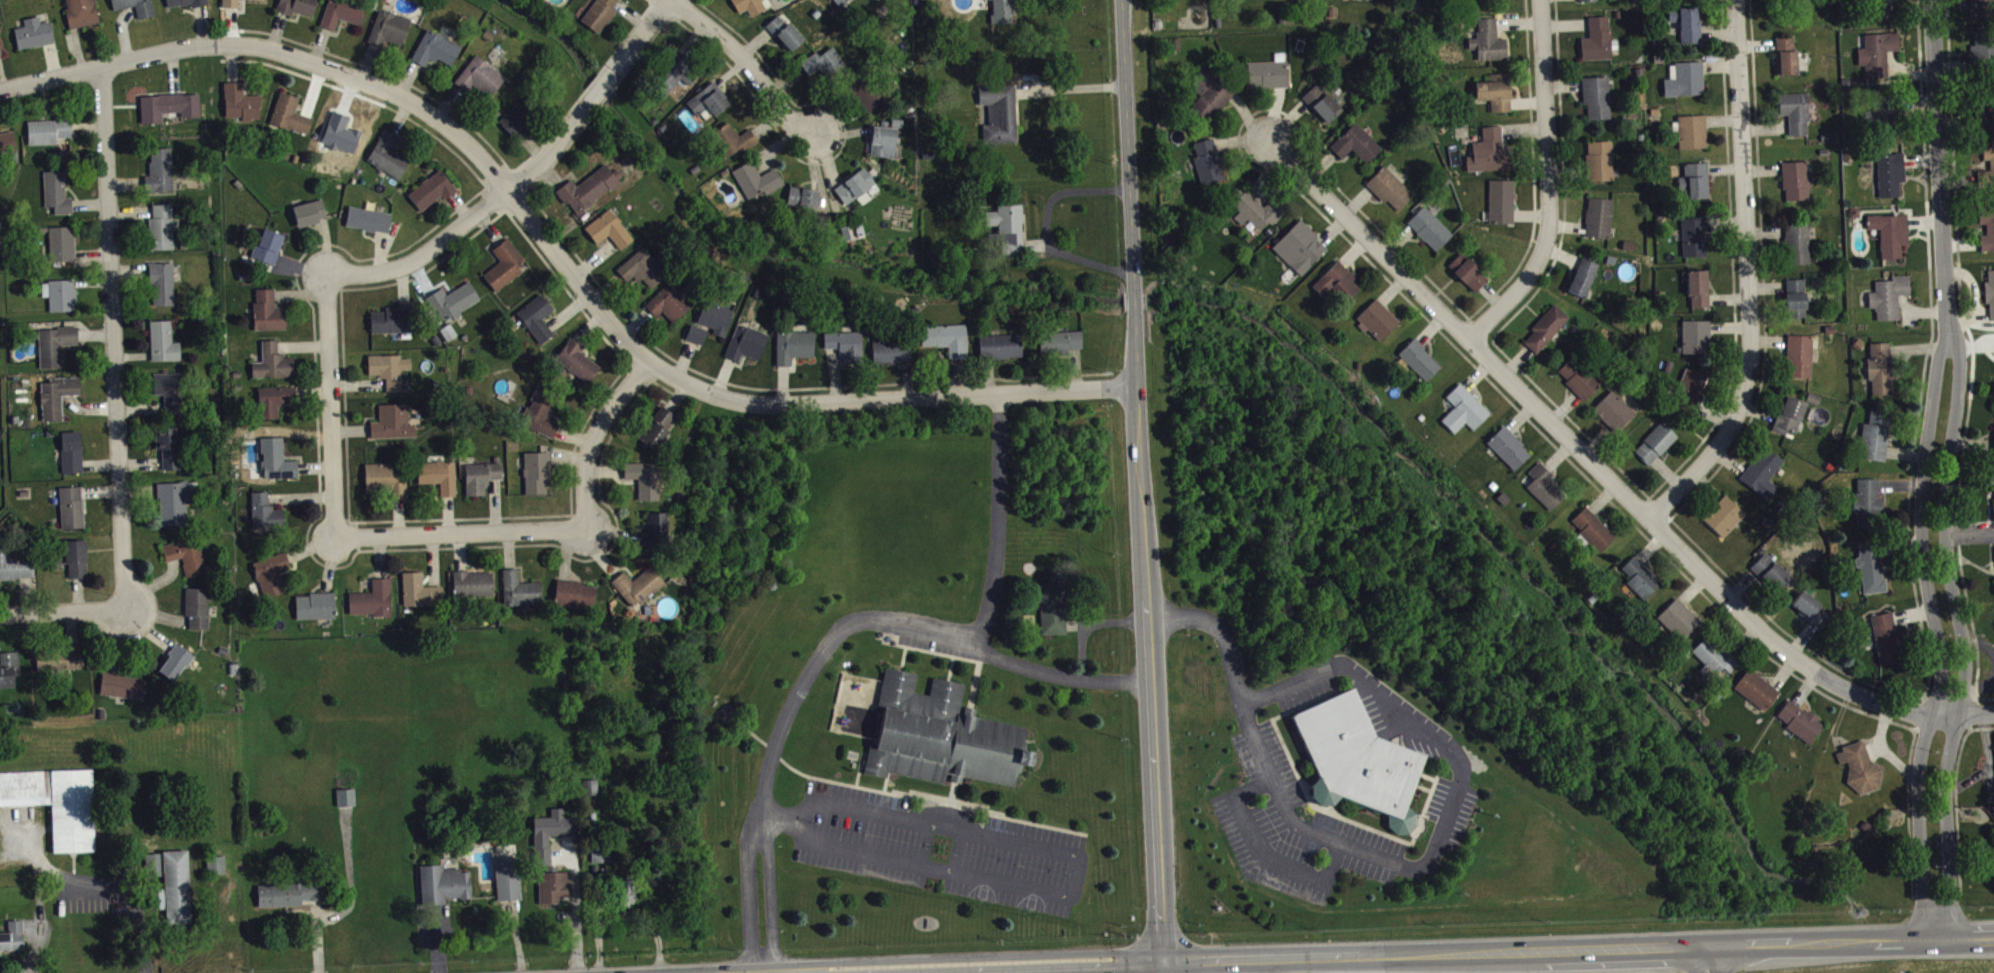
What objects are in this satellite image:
road: (651, 0)
building: (983, 0)
building: (1808, 0)
building: (1262, 1)
building: (1366, 1)
building: (184, 2)
building: (228, 2)
building: (839, 2)
building: (1589, 2)
building: (747, 5)
building: (134, 6)
building: (294, 6)
road: (679, 8)
building: (1982, 11)
building: (80, 12)
building: (339, 12)
building: (1000, 12)
building: (598, 13)
road: (642, 14)
building: (387, 27)
building: (1689, 28)
building: (32, 32)
building: (782, 32)
road: (638, 34)
building: (1599, 44)
road: (618, 46)
building: (1490, 46)
building: (433, 48)
building: (0, 51)
building: (1788, 60)
building: (1879, 60)
building: (1985, 60)
road: (751, 62)
building: (826, 64)
building: (671, 71)
building: (478, 76)
building: (1270, 77)
road: (591, 81)
building: (1687, 84)
road: (599, 85)
building: (873, 89)
road: (422, 91)
building: (1213, 96)
building: (1497, 97)
building: (239, 101)
building: (705, 101)
building: (1598, 102)
building: (166, 105)
building: (1324, 108)
building: (997, 112)
building: (288, 113)
building: (1987, 114)
building: (520, 117)
building: (1797, 117)
building: (1886, 126)
building: (47, 129)
building: (338, 132)
building: (1694, 136)
building: (731, 139)
building: (881, 140)
building: (6, 141)
road: (1127, 144)
building: (1358, 148)
building: (386, 155)
building: (1492, 156)
road: (828, 160)
building: (1602, 165)
building: (1210, 167)
building: (1993, 170)
building: (159, 171)
road: (493, 172)
building: (755, 179)
building: (1892, 179)
road: (1550, 182)
building: (853, 184)
building: (1697, 185)
building: (1797, 185)
building: (587, 186)
building: (431, 189)
building: (55, 191)
building: (1392, 193)
building: (802, 196)
road: (495, 197)
building: (1503, 206)
building: (308, 211)
building: (1259, 215)
road: (470, 216)
building: (367, 218)
building: (1601, 222)
building: (159, 226)
road: (1046, 226)
building: (1005, 227)
building: (607, 229)
building: (1432, 232)
building: (1991, 234)
building: (1892, 238)
building: (1696, 241)
building: (59, 242)
building: (266, 245)
building: (1799, 248)
building: (1302, 252)
road: (557, 253)
building: (503, 264)
building: (641, 267)
road: (556, 274)
road: (1753, 275)
building: (1470, 277)
building: (161, 282)
building: (1585, 282)
building: (1339, 286)
building: (58, 293)
building: (1700, 293)
building: (1991, 296)
road: (1133, 298)
building: (451, 299)
building: (1891, 301)
building: (667, 302)
building: (1798, 303)
building: (265, 311)
building: (535, 317)
building: (713, 317)
building: (396, 319)
building: (1380, 324)
building: (447, 331)
building: (695, 333)
building: (1548, 333)
road: (113, 337)
building: (945, 337)
building: (161, 340)
building: (745, 341)
building: (1059, 341)
building: (1698, 342)
building: (54, 343)
building: (844, 344)
building: (792, 345)
building: (999, 345)
building: (889, 350)
building: (576, 360)
building: (271, 361)
building: (1802, 361)
building: (1421, 365)
building: (388, 368)
road: (639, 370)
building: (1882, 373)
road: (652, 380)
building: (1580, 382)
road: (763, 388)
building: (168, 390)
road: (316, 390)
building: (1692, 390)
building: (55, 395)
building: (272, 399)
road: (329, 407)
building: (539, 414)
building: (1466, 414)
building: (1615, 416)
building: (391, 420)
building: (1791, 420)
building: (655, 427)
road: (594, 436)
building: (1878, 441)
building: (167, 446)
building: (1657, 448)
building: (70, 452)
building: (1511, 453)
building: (274, 458)
road: (1938, 468)
building: (535, 471)
road: (1611, 472)
building: (437, 475)
building: (479, 476)
building: (643, 477)
building: (1764, 478)
building: (383, 479)
building: (1993, 482)
building: (1546, 491)
building: (173, 500)
building: (70, 506)
building: (1869, 508)
building: (263, 511)
road: (999, 516)
building: (1726, 521)
building: (655, 529)
road: (459, 533)
building: (1595, 534)
road: (354, 536)
building: (184, 556)
building: (72, 557)
building: (15, 565)
building: (1873, 571)
building: (269, 572)
building: (1773, 578)
building: (1642, 582)
building: (471, 583)
building: (637, 584)
building: (518, 588)
building: (418, 589)
building: (574, 593)
building: (372, 598)
building: (314, 604)
building: (196, 606)
building: (1052, 607)
road: (64, 612)
building: (1813, 614)
road: (888, 620)
building: (1679, 625)
road: (1150, 634)
building: (1889, 644)
building: (56, 659)
building: (174, 661)
building: (1715, 663)
building: (7, 667)
building: (120, 684)
building: (1758, 694)
parking lot: (1367, 705)
road: (1411, 721)
building: (1802, 726)
building: (938, 734)
road: (1258, 746)
building: (1357, 754)
building: (1861, 772)
building: (592, 792)
building: (344, 796)
building: (1991, 796)
building: (56, 802)
parking lot: (1451, 809)
road: (865, 815)
parking lot: (1292, 826)
parking lot: (937, 847)
building: (599, 851)
building: (541, 855)
road: (1265, 855)
road: (844, 857)
building: (214, 863)
road: (1083, 870)
building: (506, 876)
building: (442, 883)
building: (170, 885)
building: (287, 892)
building: (624, 893)
road: (135, 900)
road: (751, 904)
road: (774, 905)
road: (577, 915)
road: (330, 922)
building: (12, 935)
road: (1577, 949)
road: (973, 957)
road: (1697, 959)
road: (1716, 959)
traffic signals: (1161, 963)
road: (1160, 968)
road: (1162, 968)
road: (1090, 970)

